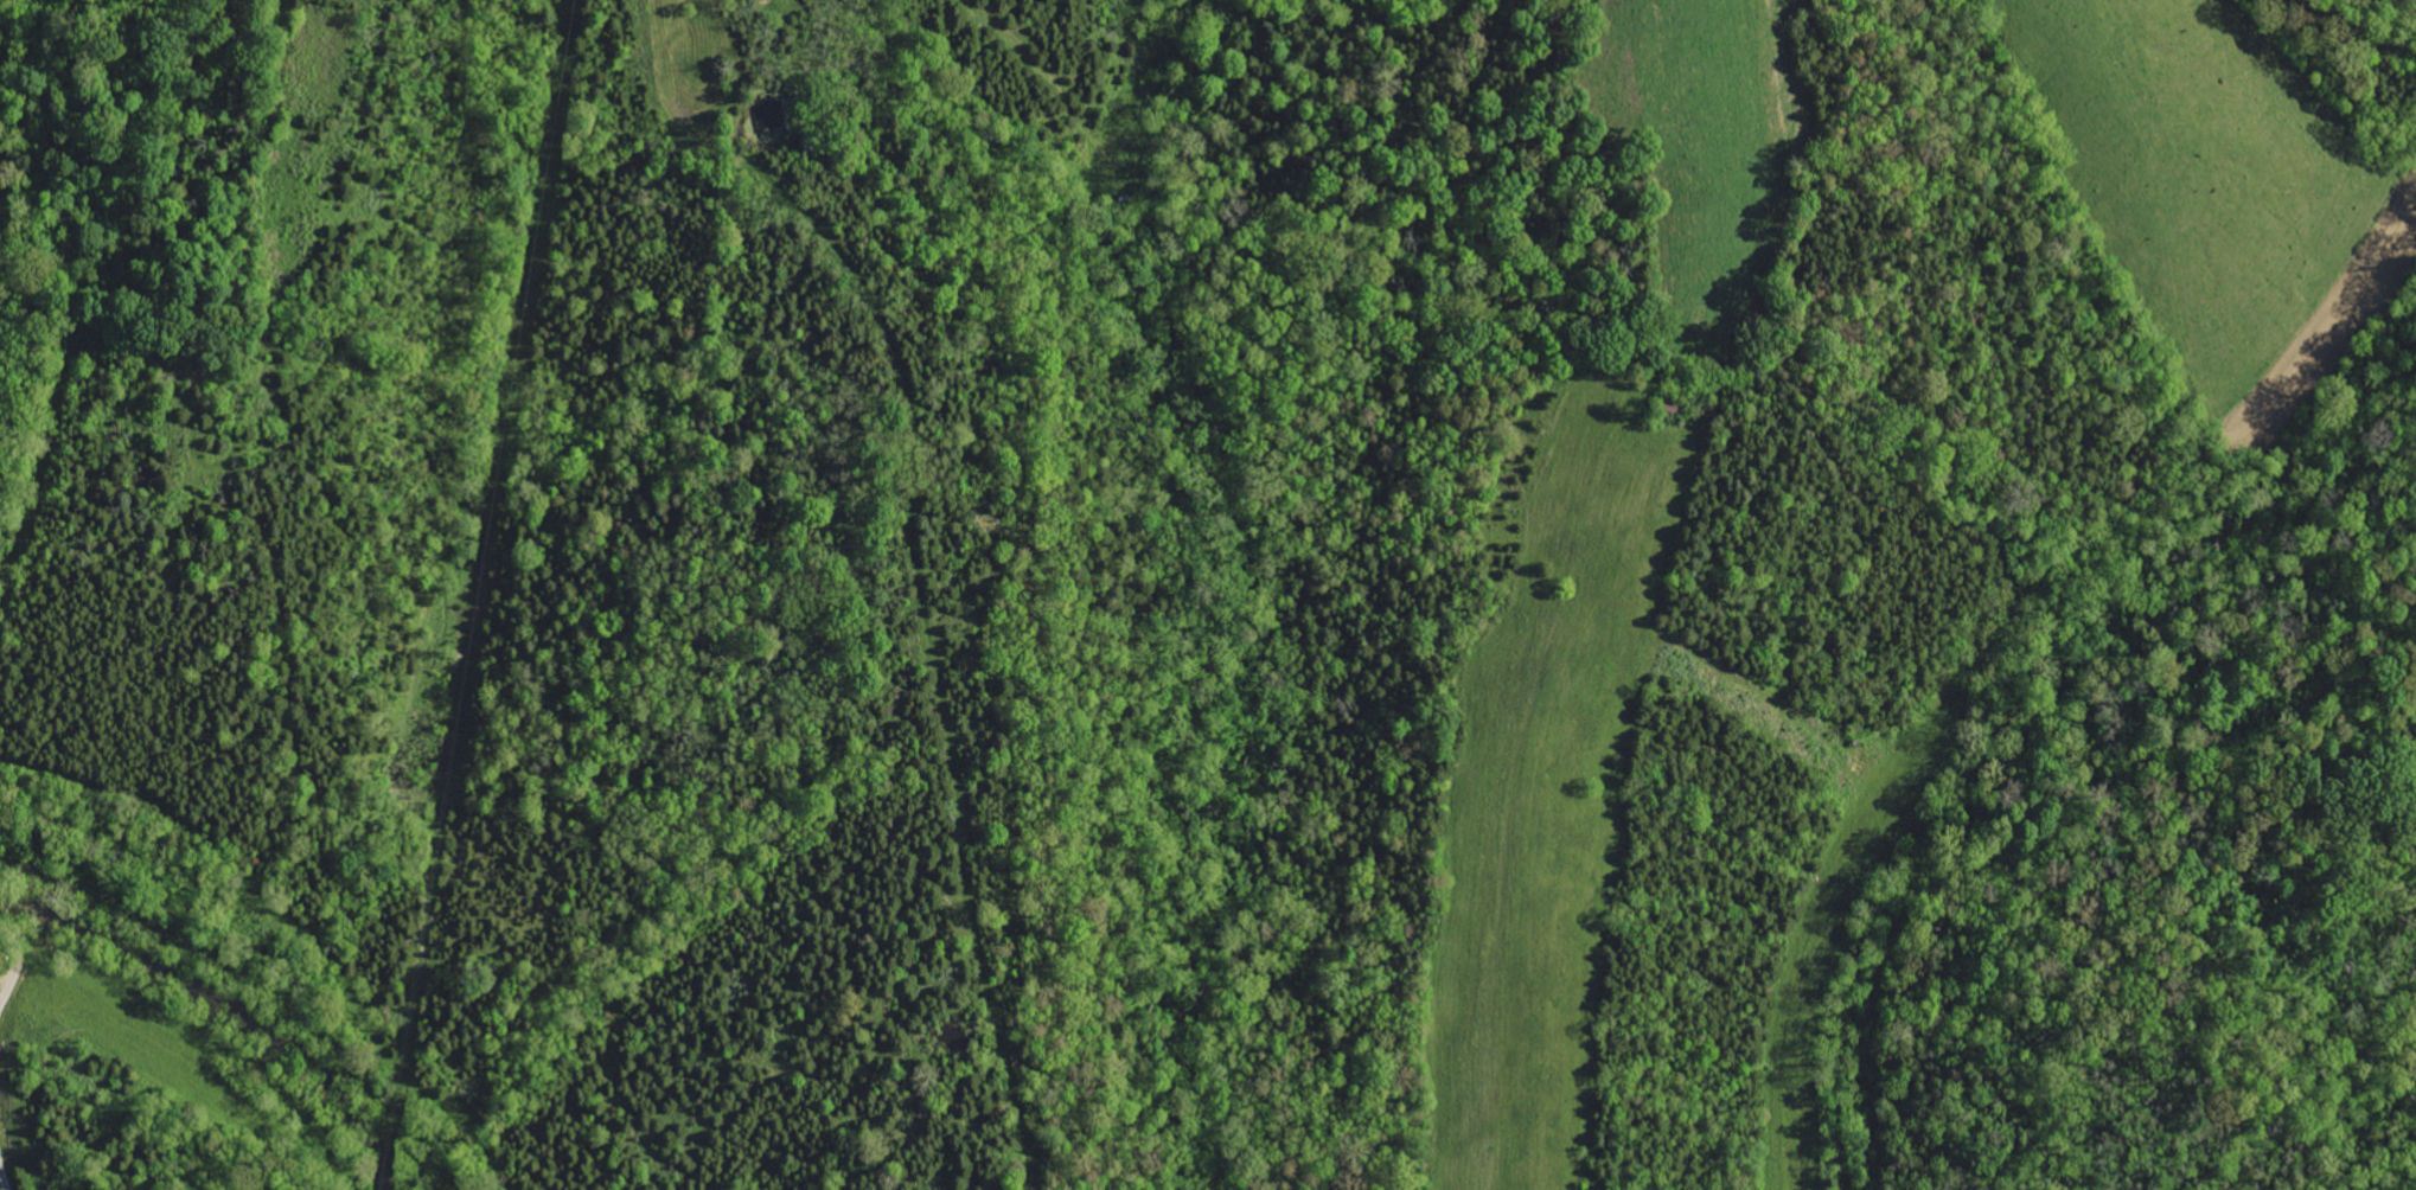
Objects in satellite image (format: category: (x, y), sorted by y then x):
road: (1776, 180)
road: (17, 962)
road: (2, 1178)

